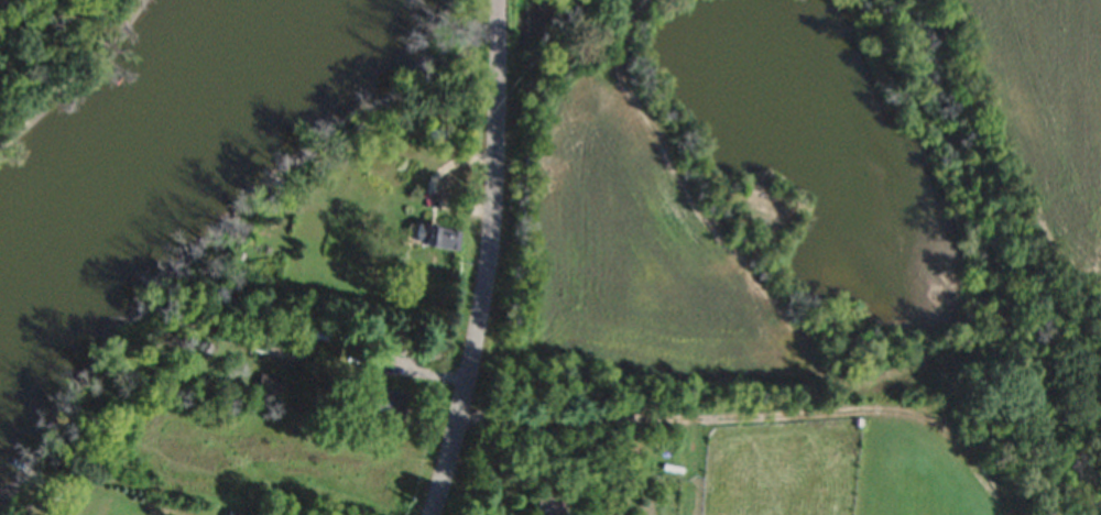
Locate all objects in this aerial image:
river: (148, 138)
building: (436, 237)
road: (484, 260)
building: (271, 349)
building: (270, 382)
building: (378, 392)
building: (543, 503)
building: (238, 513)

